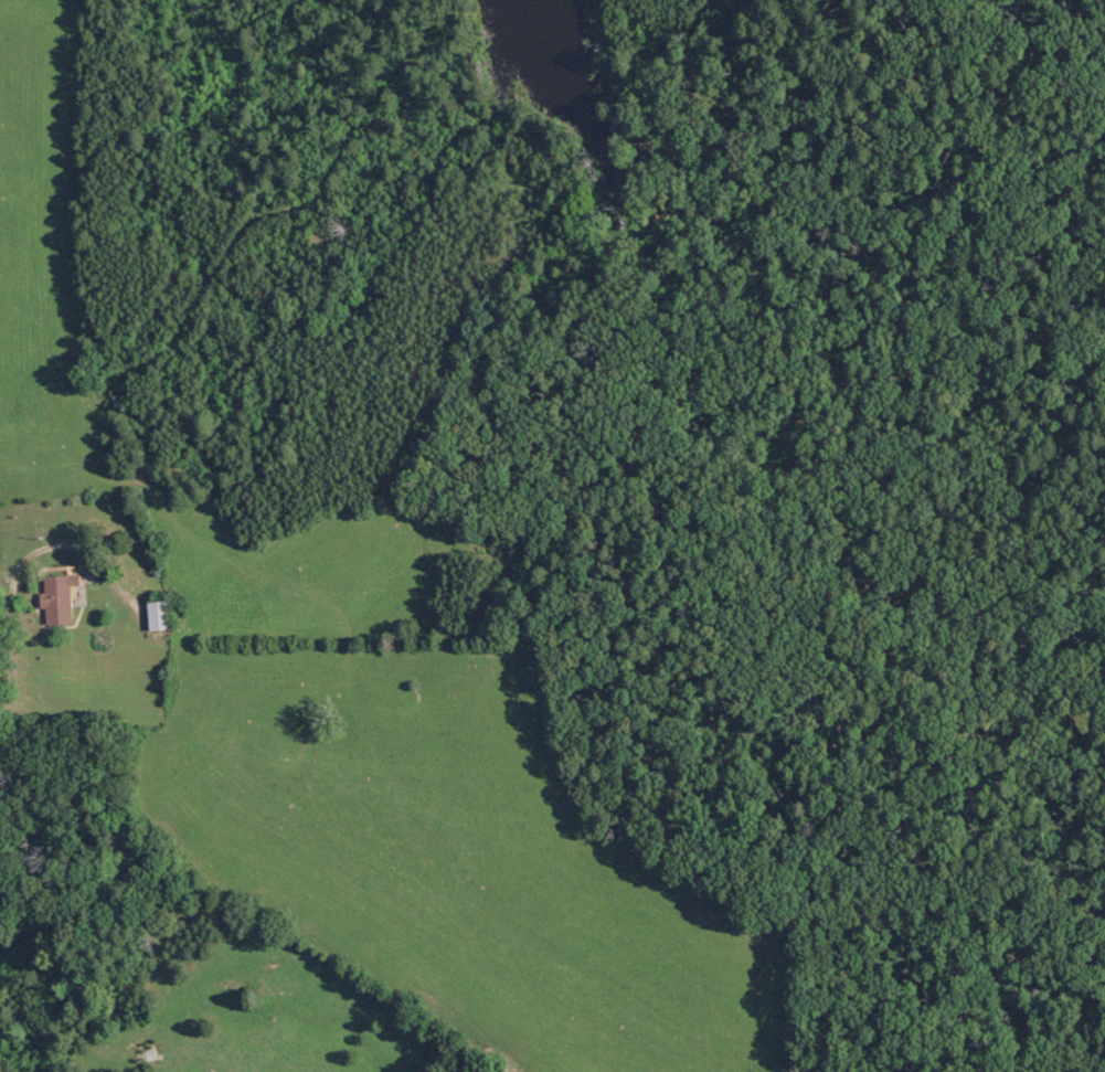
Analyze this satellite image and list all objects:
building: (55, 597)
road: (8, 607)
building: (156, 615)

